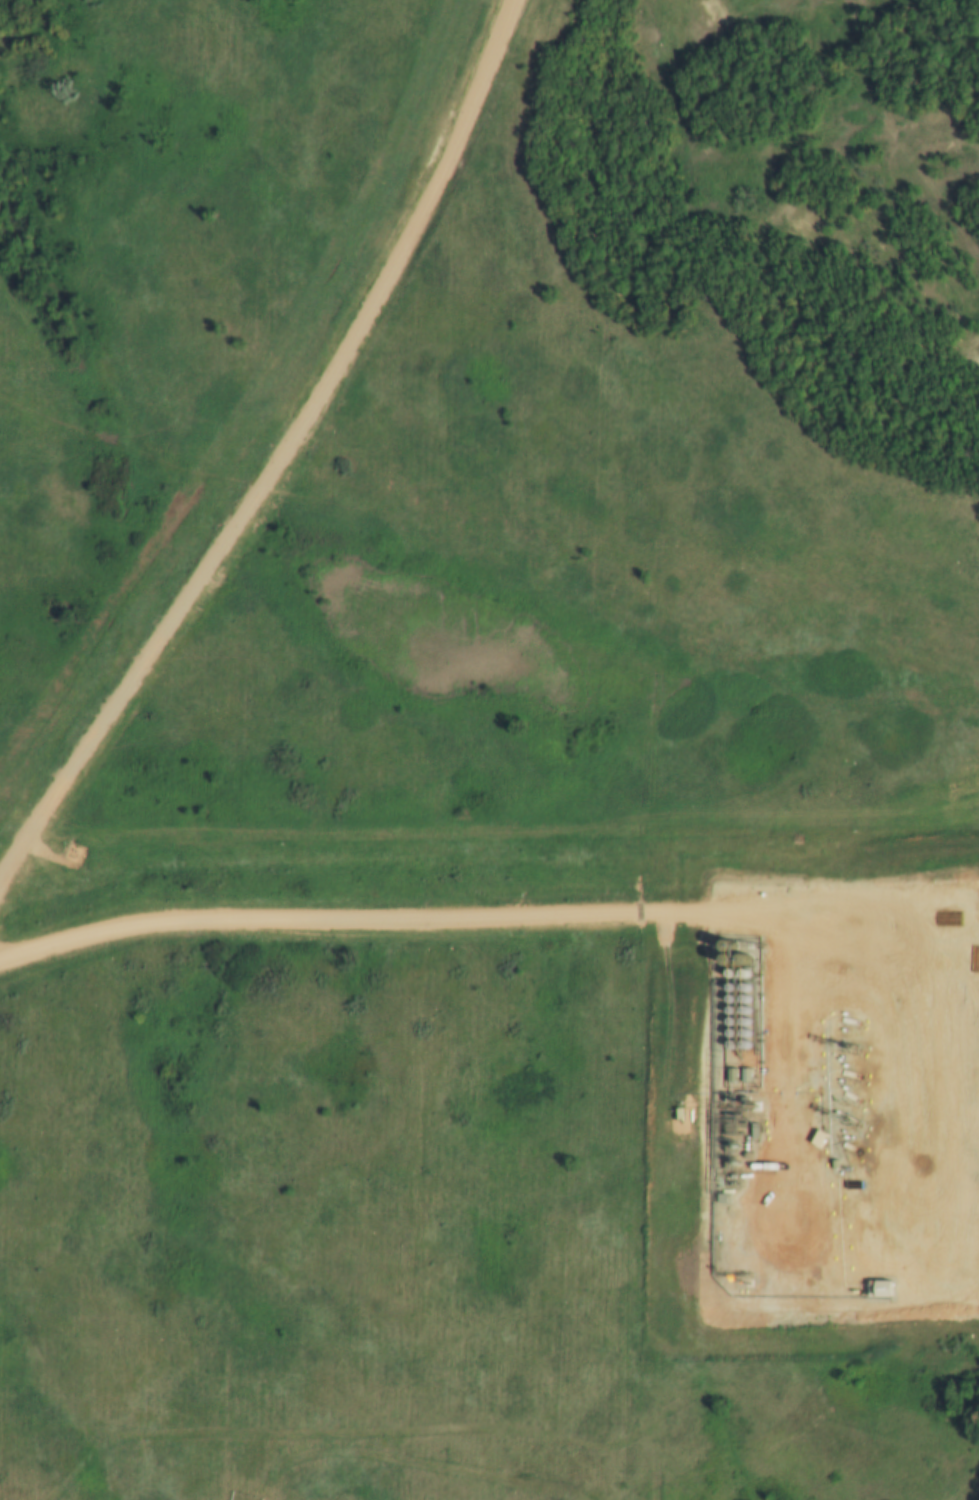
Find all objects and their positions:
road: (265, 443)
road: (387, 911)
building: (729, 990)
storage tank: (729, 990)
building: (742, 990)
storage tank: (742, 990)
building: (728, 1001)
storage tank: (728, 1001)
building: (743, 1002)
storage tank: (743, 1002)
building: (743, 1012)
storage tank: (743, 1012)
building: (728, 1013)
storage tank: (728, 1013)
building: (729, 1023)
storage tank: (729, 1023)
building: (743, 1024)
storage tank: (743, 1024)
building: (729, 1035)
storage tank: (729, 1035)
building: (743, 1035)
storage tank: (743, 1035)
building: (729, 1046)
storage tank: (729, 1046)
building: (744, 1046)
storage tank: (744, 1046)
petroleum well: (868, 1047)
petroleum well: (868, 1121)

